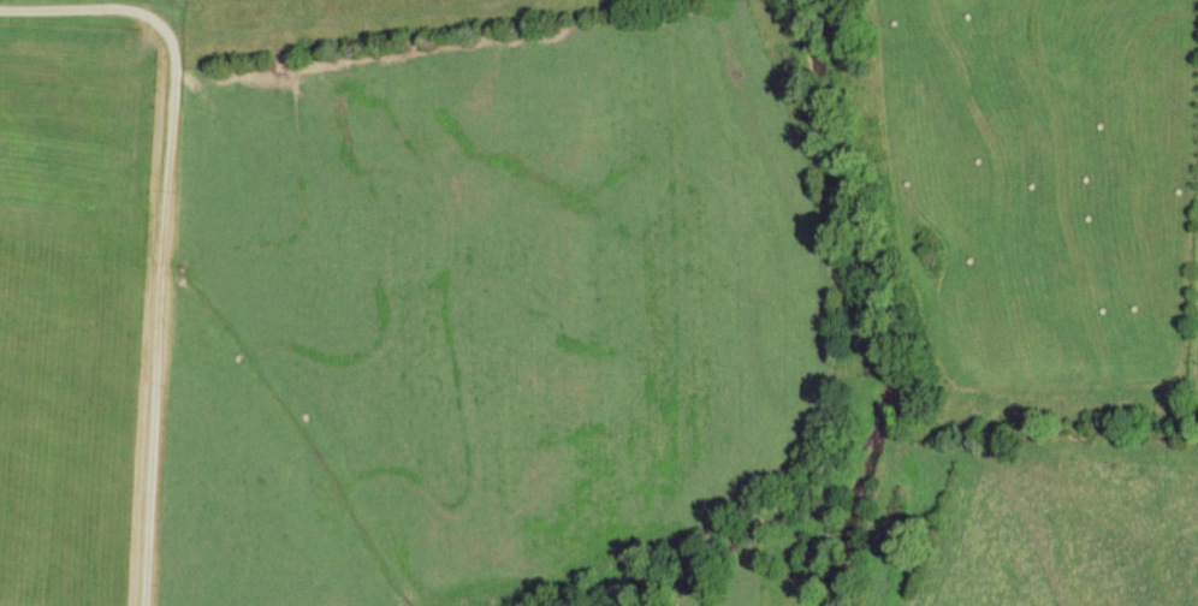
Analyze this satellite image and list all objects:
crop: (1196, 347)

